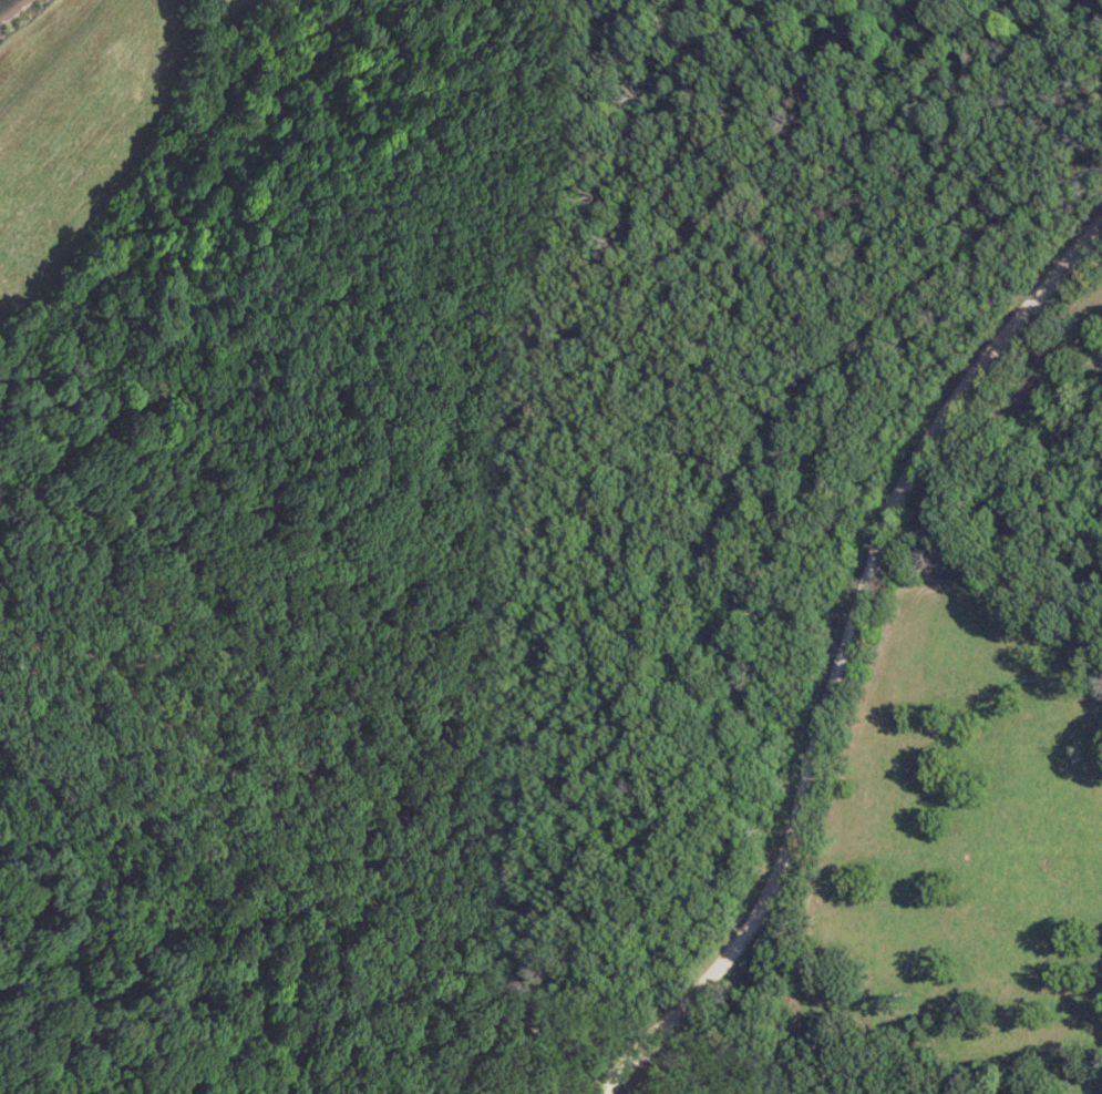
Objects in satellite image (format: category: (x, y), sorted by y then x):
road: (801, 638)

